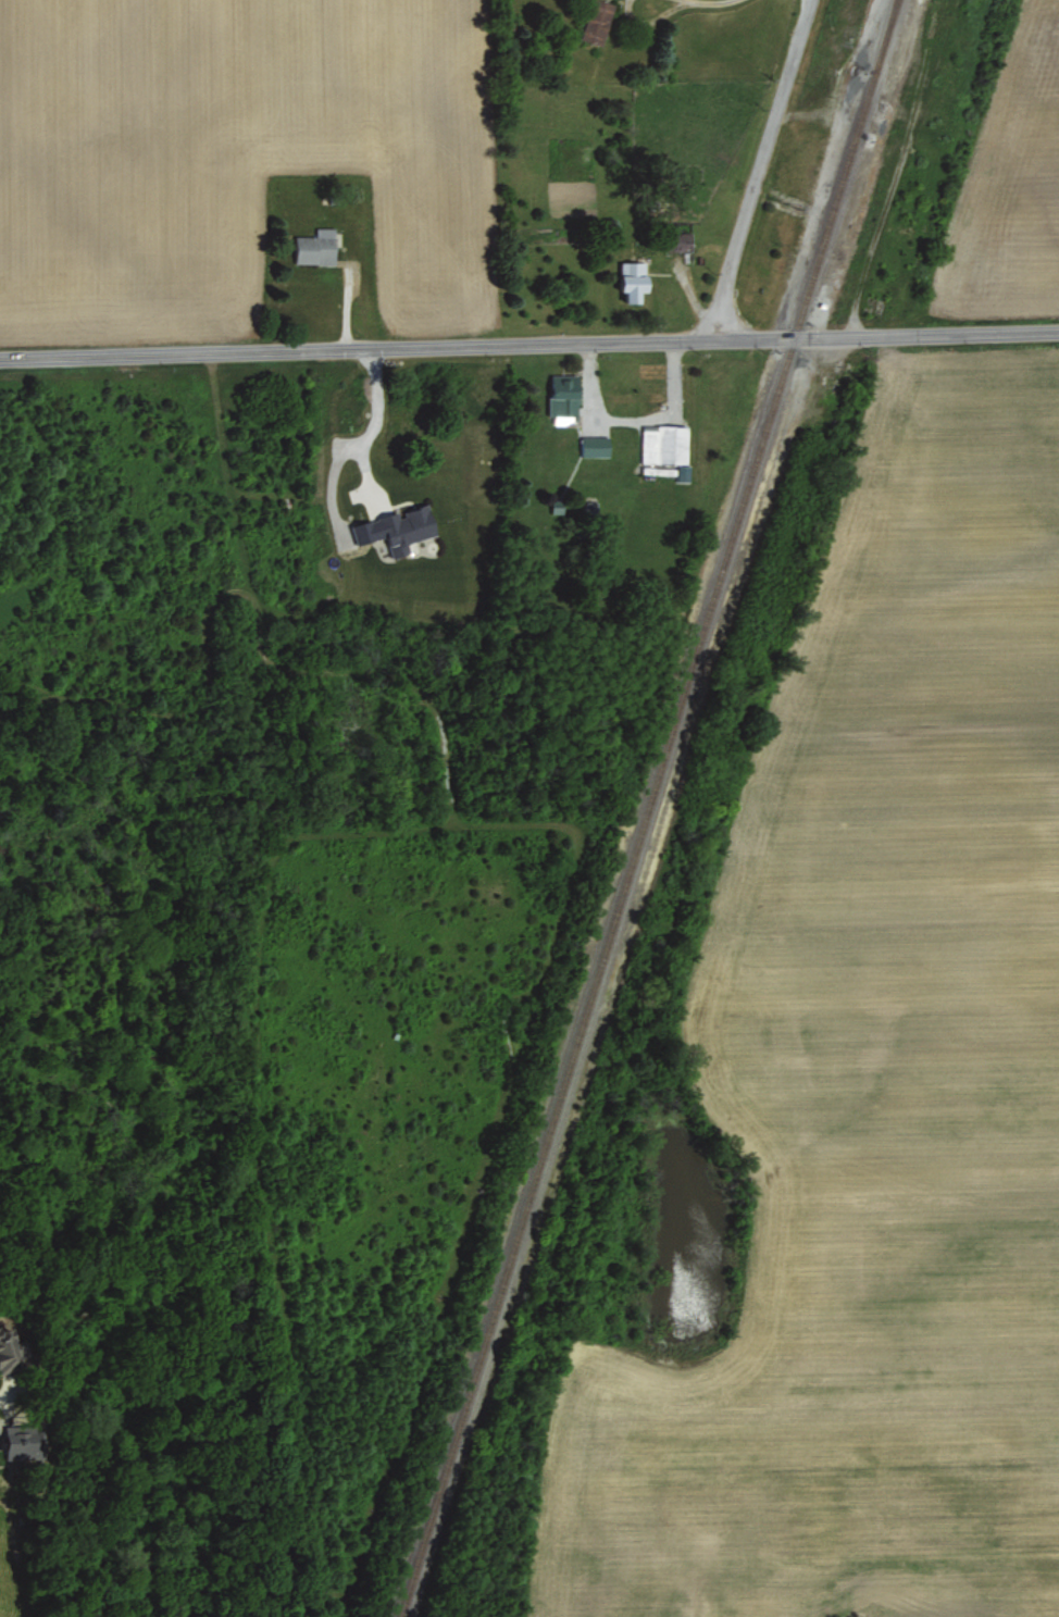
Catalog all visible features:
building: (597, 21)
road: (760, 165)
building: (680, 239)
building: (315, 246)
building: (633, 279)
road: (528, 338)
building: (564, 397)
road: (628, 411)
road: (370, 427)
building: (664, 443)
building: (595, 445)
building: (403, 527)
railway: (647, 809)
building: (8, 1349)
building: (20, 1440)

